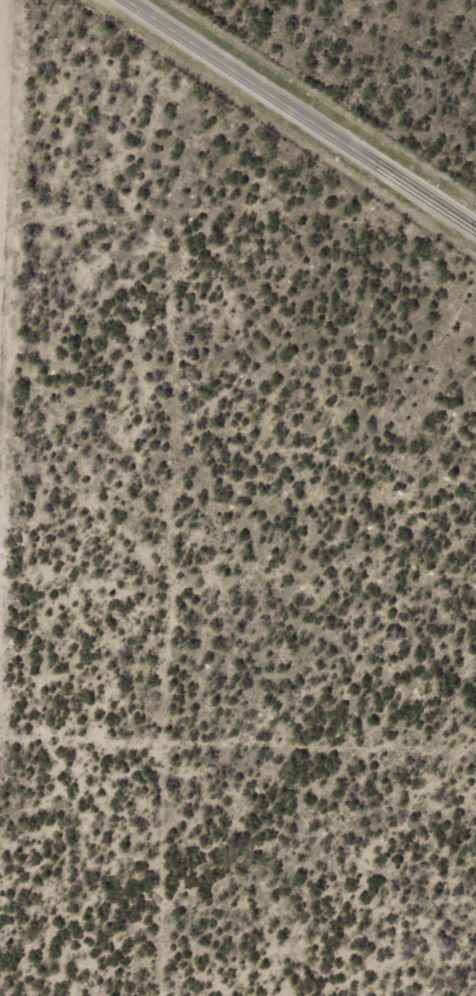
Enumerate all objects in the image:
road: (301, 116)

